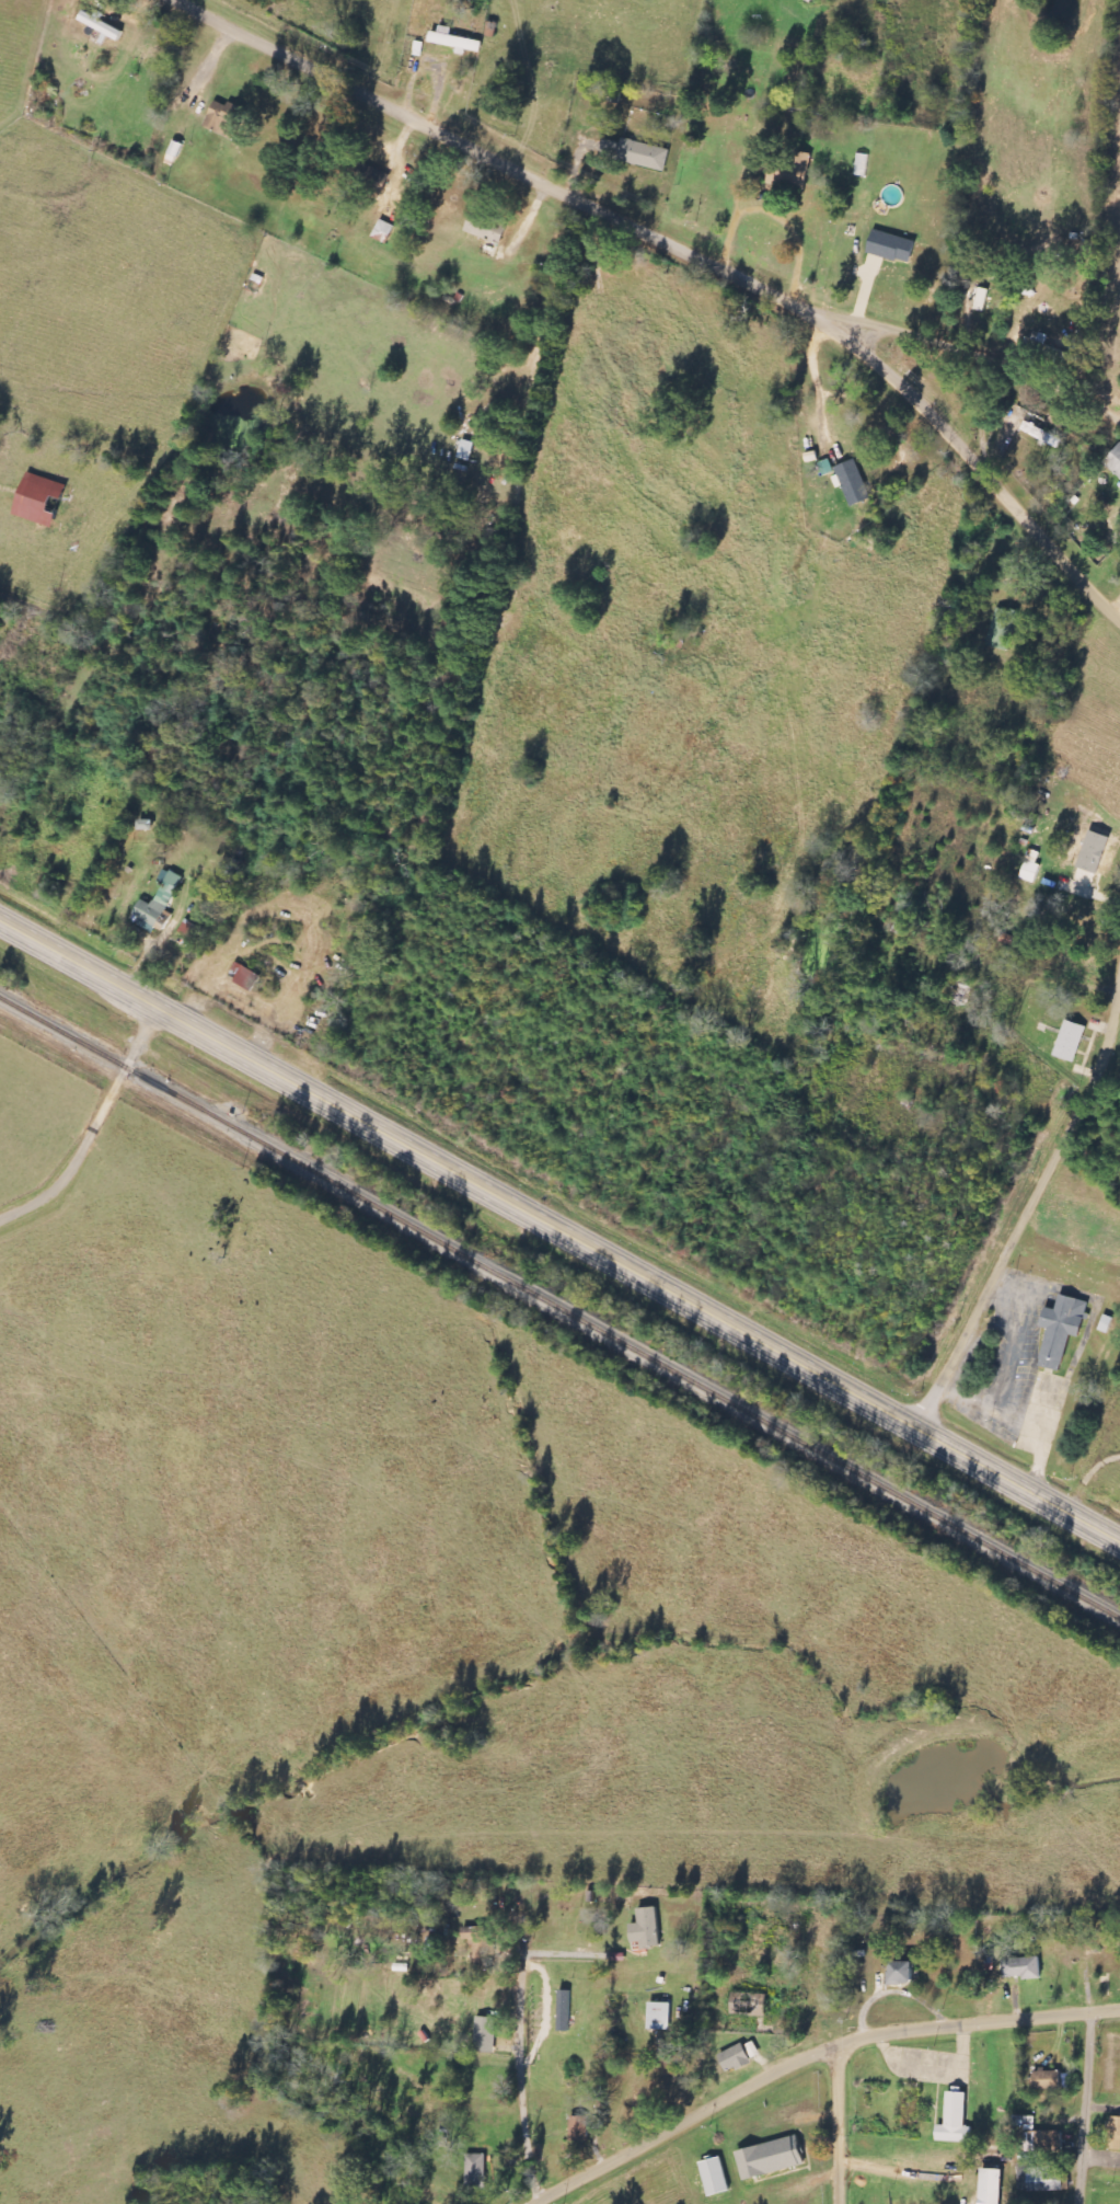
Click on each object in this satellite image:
building: (102, 25)
building: (455, 41)
building: (226, 118)
building: (175, 151)
building: (636, 153)
road: (513, 161)
building: (796, 172)
building: (486, 228)
building: (383, 231)
building: (891, 246)
building: (982, 299)
road: (983, 346)
building: (1115, 461)
road: (978, 470)
building: (854, 483)
building: (38, 500)
building: (1002, 629)
building: (1093, 858)
building: (158, 903)
building: (245, 977)
building: (1070, 1042)
road: (97, 1134)
road: (461, 1172)
road: (1030, 1192)
railway: (559, 1302)
building: (1062, 1330)
road: (1021, 1484)
building: (646, 1930)
building: (478, 1942)
building: (1021, 1968)
building: (901, 1973)
building: (749, 2005)
building: (659, 2017)
building: (485, 2034)
road: (811, 2057)
building: (735, 2058)
road: (522, 2066)
building: (1047, 2080)
road: (1090, 2110)
building: (955, 2121)
road: (840, 2123)
building: (579, 2128)
building: (1115, 2134)
building: (771, 2158)
building: (476, 2172)
building: (715, 2177)
building: (1046, 2185)
building: (989, 2188)
road: (534, 2203)

